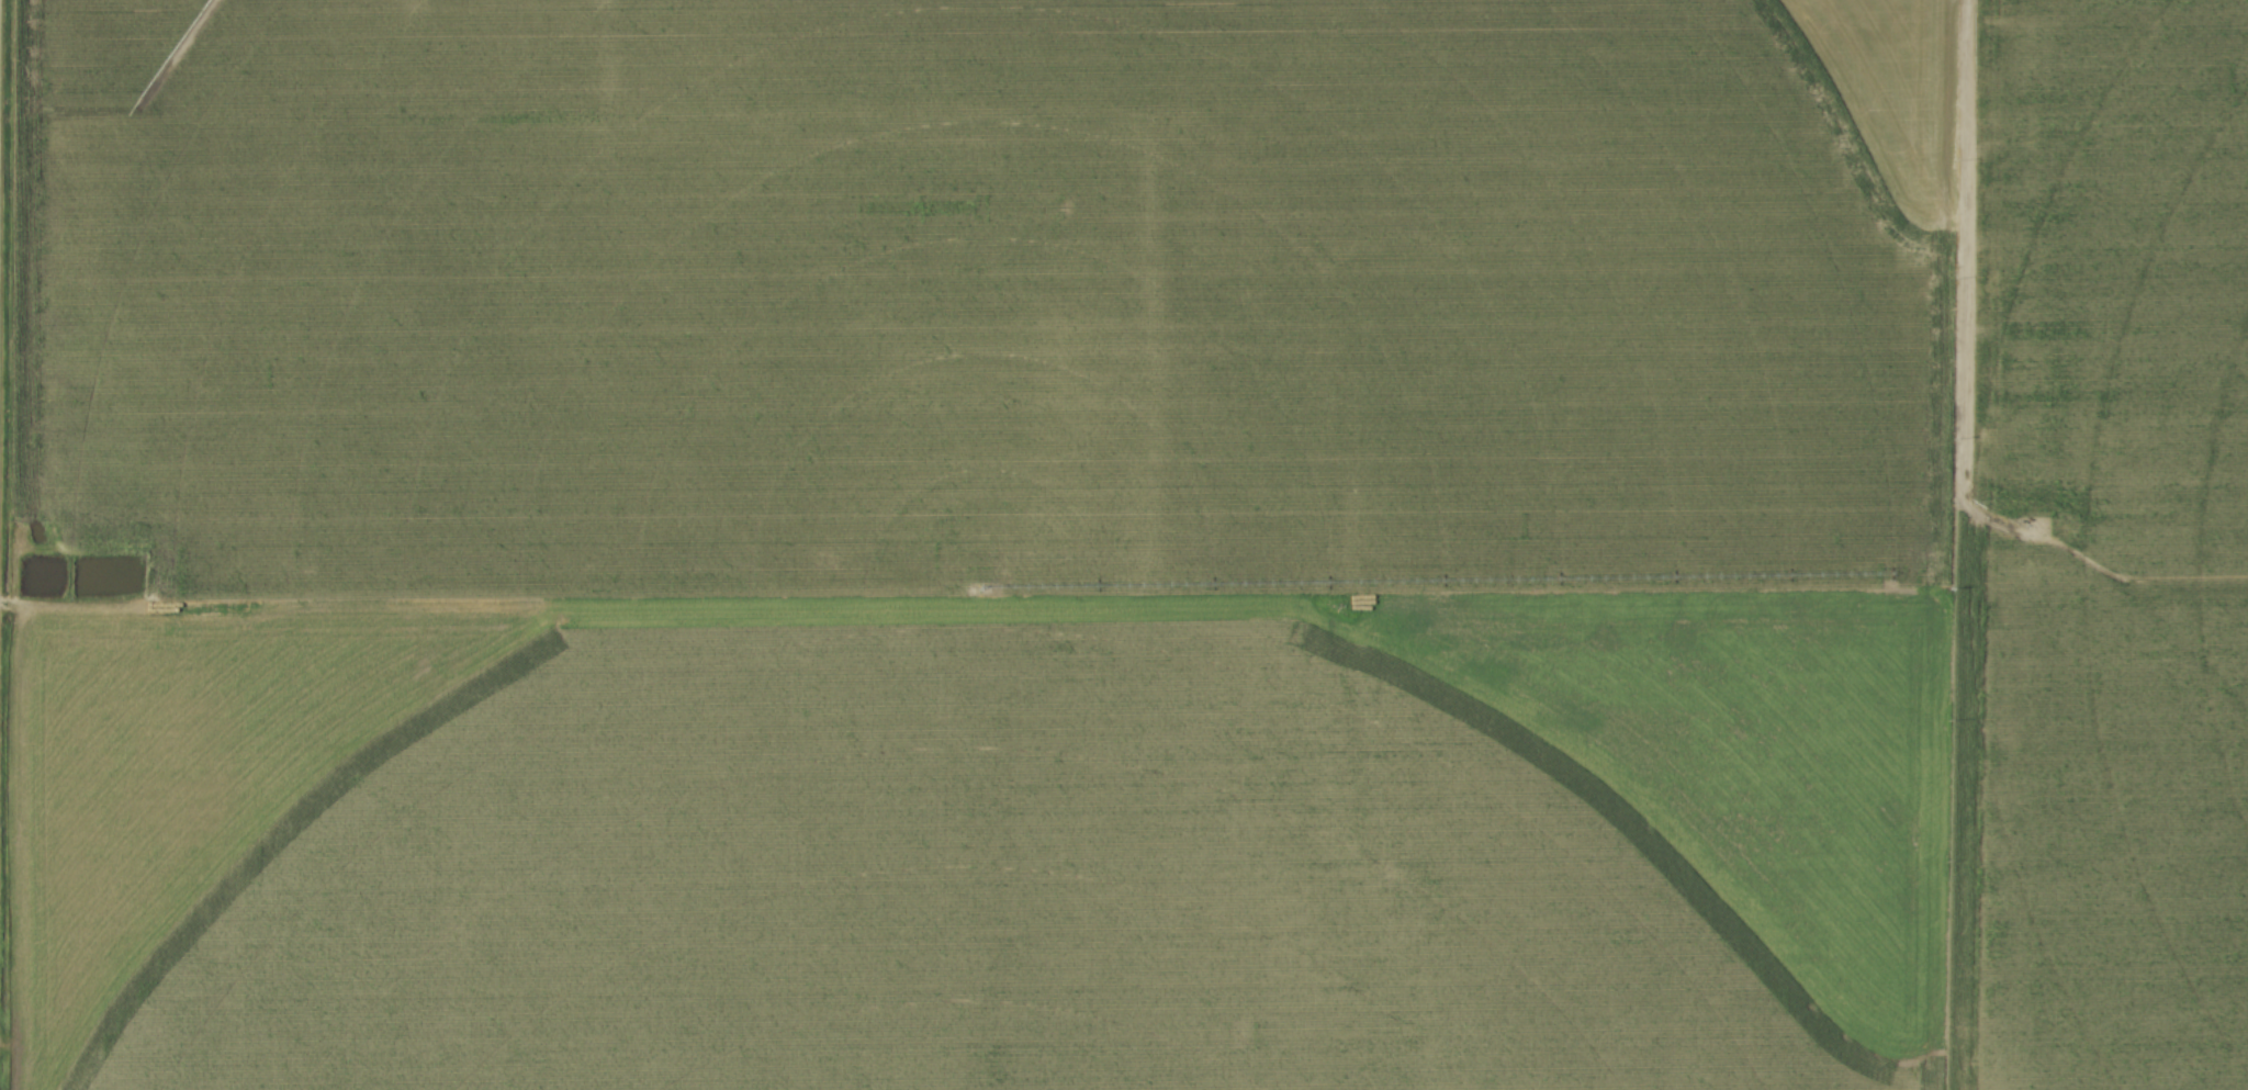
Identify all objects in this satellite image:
crop: (1134, 544)
road: (932, 594)

